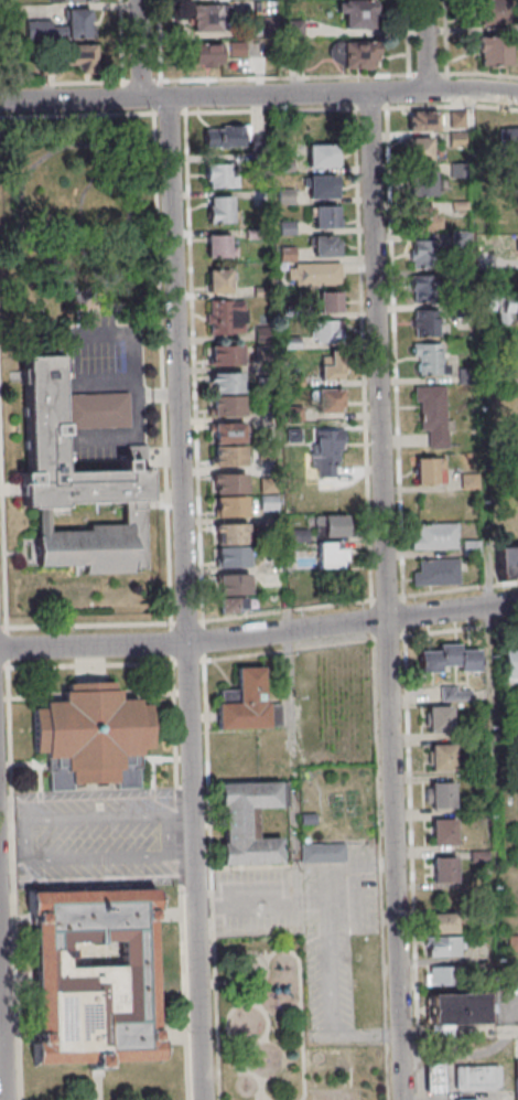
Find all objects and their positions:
building: (77, 0)
building: (493, 12)
building: (357, 14)
building: (205, 18)
building: (62, 28)
road: (424, 46)
road: (140, 49)
building: (494, 52)
building: (359, 54)
building: (205, 56)
road: (259, 96)
building: (422, 120)
building: (229, 135)
building: (509, 141)
building: (419, 148)
building: (322, 157)
building: (219, 174)
building: (422, 184)
building: (323, 186)
building: (220, 209)
building: (325, 216)
building: (424, 218)
building: (218, 245)
building: (326, 245)
building: (424, 254)
building: (316, 274)
building: (220, 280)
building: (424, 290)
building: (508, 298)
building: (330, 301)
building: (227, 317)
building: (425, 325)
building: (326, 331)
building: (263, 332)
road: (101, 338)
building: (225, 354)
building: (429, 360)
building: (331, 366)
building: (512, 371)
building: (226, 382)
parking lot: (104, 384)
building: (330, 399)
building: (227, 405)
building: (433, 413)
building: (515, 429)
building: (229, 432)
road: (127, 438)
building: (326, 448)
building: (228, 456)
building: (428, 470)
building: (78, 480)
building: (229, 494)
building: (269, 502)
building: (331, 525)
building: (434, 536)
building: (231, 545)
building: (331, 555)
building: (506, 563)
building: (435, 573)
building: (234, 592)
road: (385, 597)
road: (183, 599)
road: (259, 634)
road: (288, 649)
building: (450, 660)
building: (509, 665)
building: (454, 695)
building: (244, 702)
building: (440, 718)
building: (91, 735)
building: (442, 756)
building: (441, 794)
road: (15, 804)
park: (509, 804)
building: (246, 822)
building: (444, 831)
road: (165, 832)
road: (23, 837)
building: (323, 852)
road: (379, 869)
building: (444, 869)
road: (211, 879)
parking lot: (310, 914)
building: (444, 922)
building: (444, 946)
building: (442, 975)
building: (95, 980)
building: (457, 1008)
park: (262, 1017)
road: (1, 1042)
building: (439, 1077)
building: (481, 1077)
building: (516, 1079)
building: (474, 1099)

